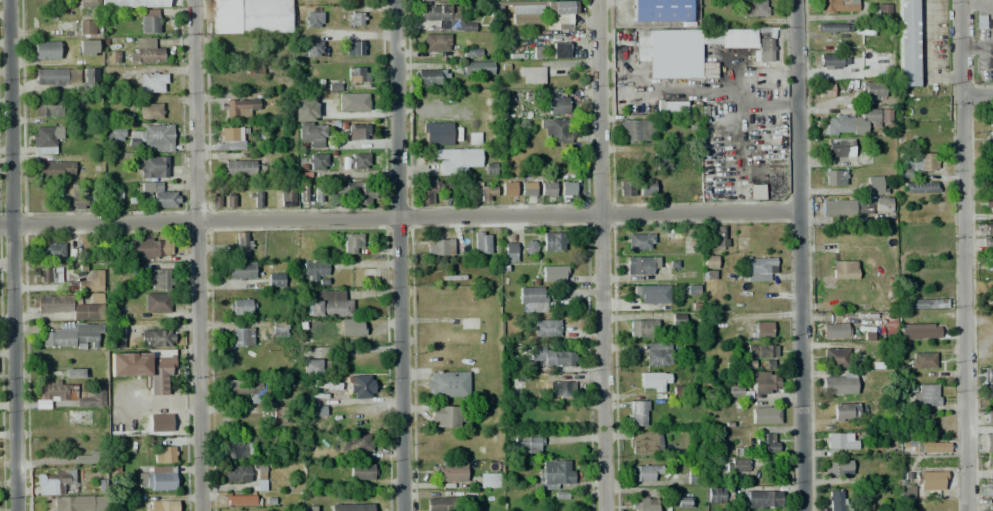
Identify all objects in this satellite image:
building: (432, 0)
building: (89, 4)
building: (134, 4)
building: (832, 6)
building: (752, 7)
building: (882, 9)
building: (660, 11)
building: (561, 15)
building: (251, 16)
building: (443, 17)
building: (526, 18)
building: (355, 19)
building: (313, 20)
building: (149, 21)
building: (86, 27)
building: (834, 27)
building: (727, 36)
building: (436, 42)
building: (907, 42)
building: (648, 46)
building: (87, 47)
building: (315, 48)
building: (356, 48)
building: (764, 49)
building: (46, 50)
building: (144, 52)
building: (551, 52)
building: (832, 60)
building: (673, 67)
building: (477, 68)
building: (358, 74)
building: (530, 75)
building: (57, 76)
building: (90, 77)
building: (430, 77)
building: (152, 82)
power tower: (973, 82)
building: (873, 89)
building: (825, 90)
road: (976, 94)
building: (423, 98)
building: (351, 101)
building: (557, 105)
building: (673, 107)
building: (47, 108)
building: (241, 108)
building: (305, 109)
building: (149, 110)
road: (828, 110)
building: (874, 117)
building: (839, 125)
building: (990, 128)
building: (554, 129)
building: (634, 130)
building: (359, 132)
building: (113, 133)
building: (313, 133)
building: (437, 134)
building: (153, 136)
building: (227, 138)
building: (43, 139)
building: (837, 148)
building: (867, 159)
building: (360, 160)
building: (454, 160)
building: (317, 161)
building: (659, 161)
building: (916, 164)
building: (150, 166)
building: (239, 167)
building: (54, 170)
building: (833, 177)
building: (989, 182)
building: (874, 185)
building: (920, 187)
building: (508, 188)
building: (527, 188)
building: (567, 188)
building: (625, 188)
building: (646, 188)
building: (432, 189)
building: (547, 189)
building: (351, 190)
building: (484, 190)
building: (756, 192)
building: (302, 193)
building: (318, 193)
building: (287, 194)
building: (157, 195)
building: (255, 196)
building: (77, 198)
building: (230, 201)
building: (215, 202)
building: (988, 204)
building: (882, 205)
building: (833, 208)
road: (399, 216)
building: (987, 229)
building: (717, 238)
building: (640, 241)
building: (482, 242)
building: (553, 242)
building: (353, 243)
building: (988, 243)
building: (242, 245)
building: (149, 247)
building: (439, 247)
building: (529, 248)
building: (51, 251)
building: (509, 251)
road: (10, 255)
road: (195, 255)
road: (399, 255)
road: (602, 255)
road: (800, 255)
road: (962, 255)
building: (709, 262)
building: (987, 264)
building: (638, 266)
building: (760, 269)
building: (843, 269)
building: (240, 270)
building: (315, 271)
building: (49, 274)
building: (553, 274)
building: (160, 279)
building: (275, 279)
building: (91, 281)
building: (653, 294)
building: (988, 295)
building: (531, 299)
building: (157, 302)
building: (927, 303)
building: (328, 304)
building: (69, 306)
building: (241, 306)
building: (890, 325)
building: (351, 327)
building: (543, 328)
building: (279, 329)
building: (642, 329)
building: (760, 329)
building: (834, 330)
building: (919, 332)
building: (71, 335)
building: (116, 336)
building: (244, 336)
building: (155, 338)
building: (759, 352)
building: (658, 354)
building: (551, 356)
building: (835, 356)
building: (921, 360)
building: (766, 365)
building: (144, 366)
building: (310, 366)
building: (74, 373)
building: (989, 375)
building: (653, 381)
building: (763, 382)
building: (837, 383)
building: (326, 384)
building: (447, 384)
building: (360, 387)
building: (519, 387)
building: (558, 388)
building: (250, 389)
building: (735, 391)
building: (989, 392)
building: (69, 393)
building: (925, 395)
building: (318, 410)
building: (845, 411)
building: (638, 413)
building: (764, 415)
building: (445, 416)
building: (988, 417)
building: (161, 422)
building: (840, 440)
building: (362, 442)
building: (644, 442)
building: (766, 442)
building: (988, 443)
building: (527, 444)
building: (239, 447)
building: (930, 447)
building: (163, 455)
building: (85, 456)
building: (989, 459)
building: (735, 465)
building: (837, 467)
building: (362, 471)
building: (642, 472)
building: (448, 473)
building: (555, 473)
building: (235, 474)
building: (64, 476)
building: (693, 477)
building: (155, 479)
building: (260, 480)
building: (487, 480)
building: (929, 480)
building: (987, 490)
building: (906, 492)
building: (714, 495)
building: (760, 499)
building: (239, 500)
building: (838, 500)
building: (683, 502)
building: (79, 503)
building: (644, 503)
building: (442, 504)
building: (161, 505)
building: (351, 507)
building: (309, 508)

